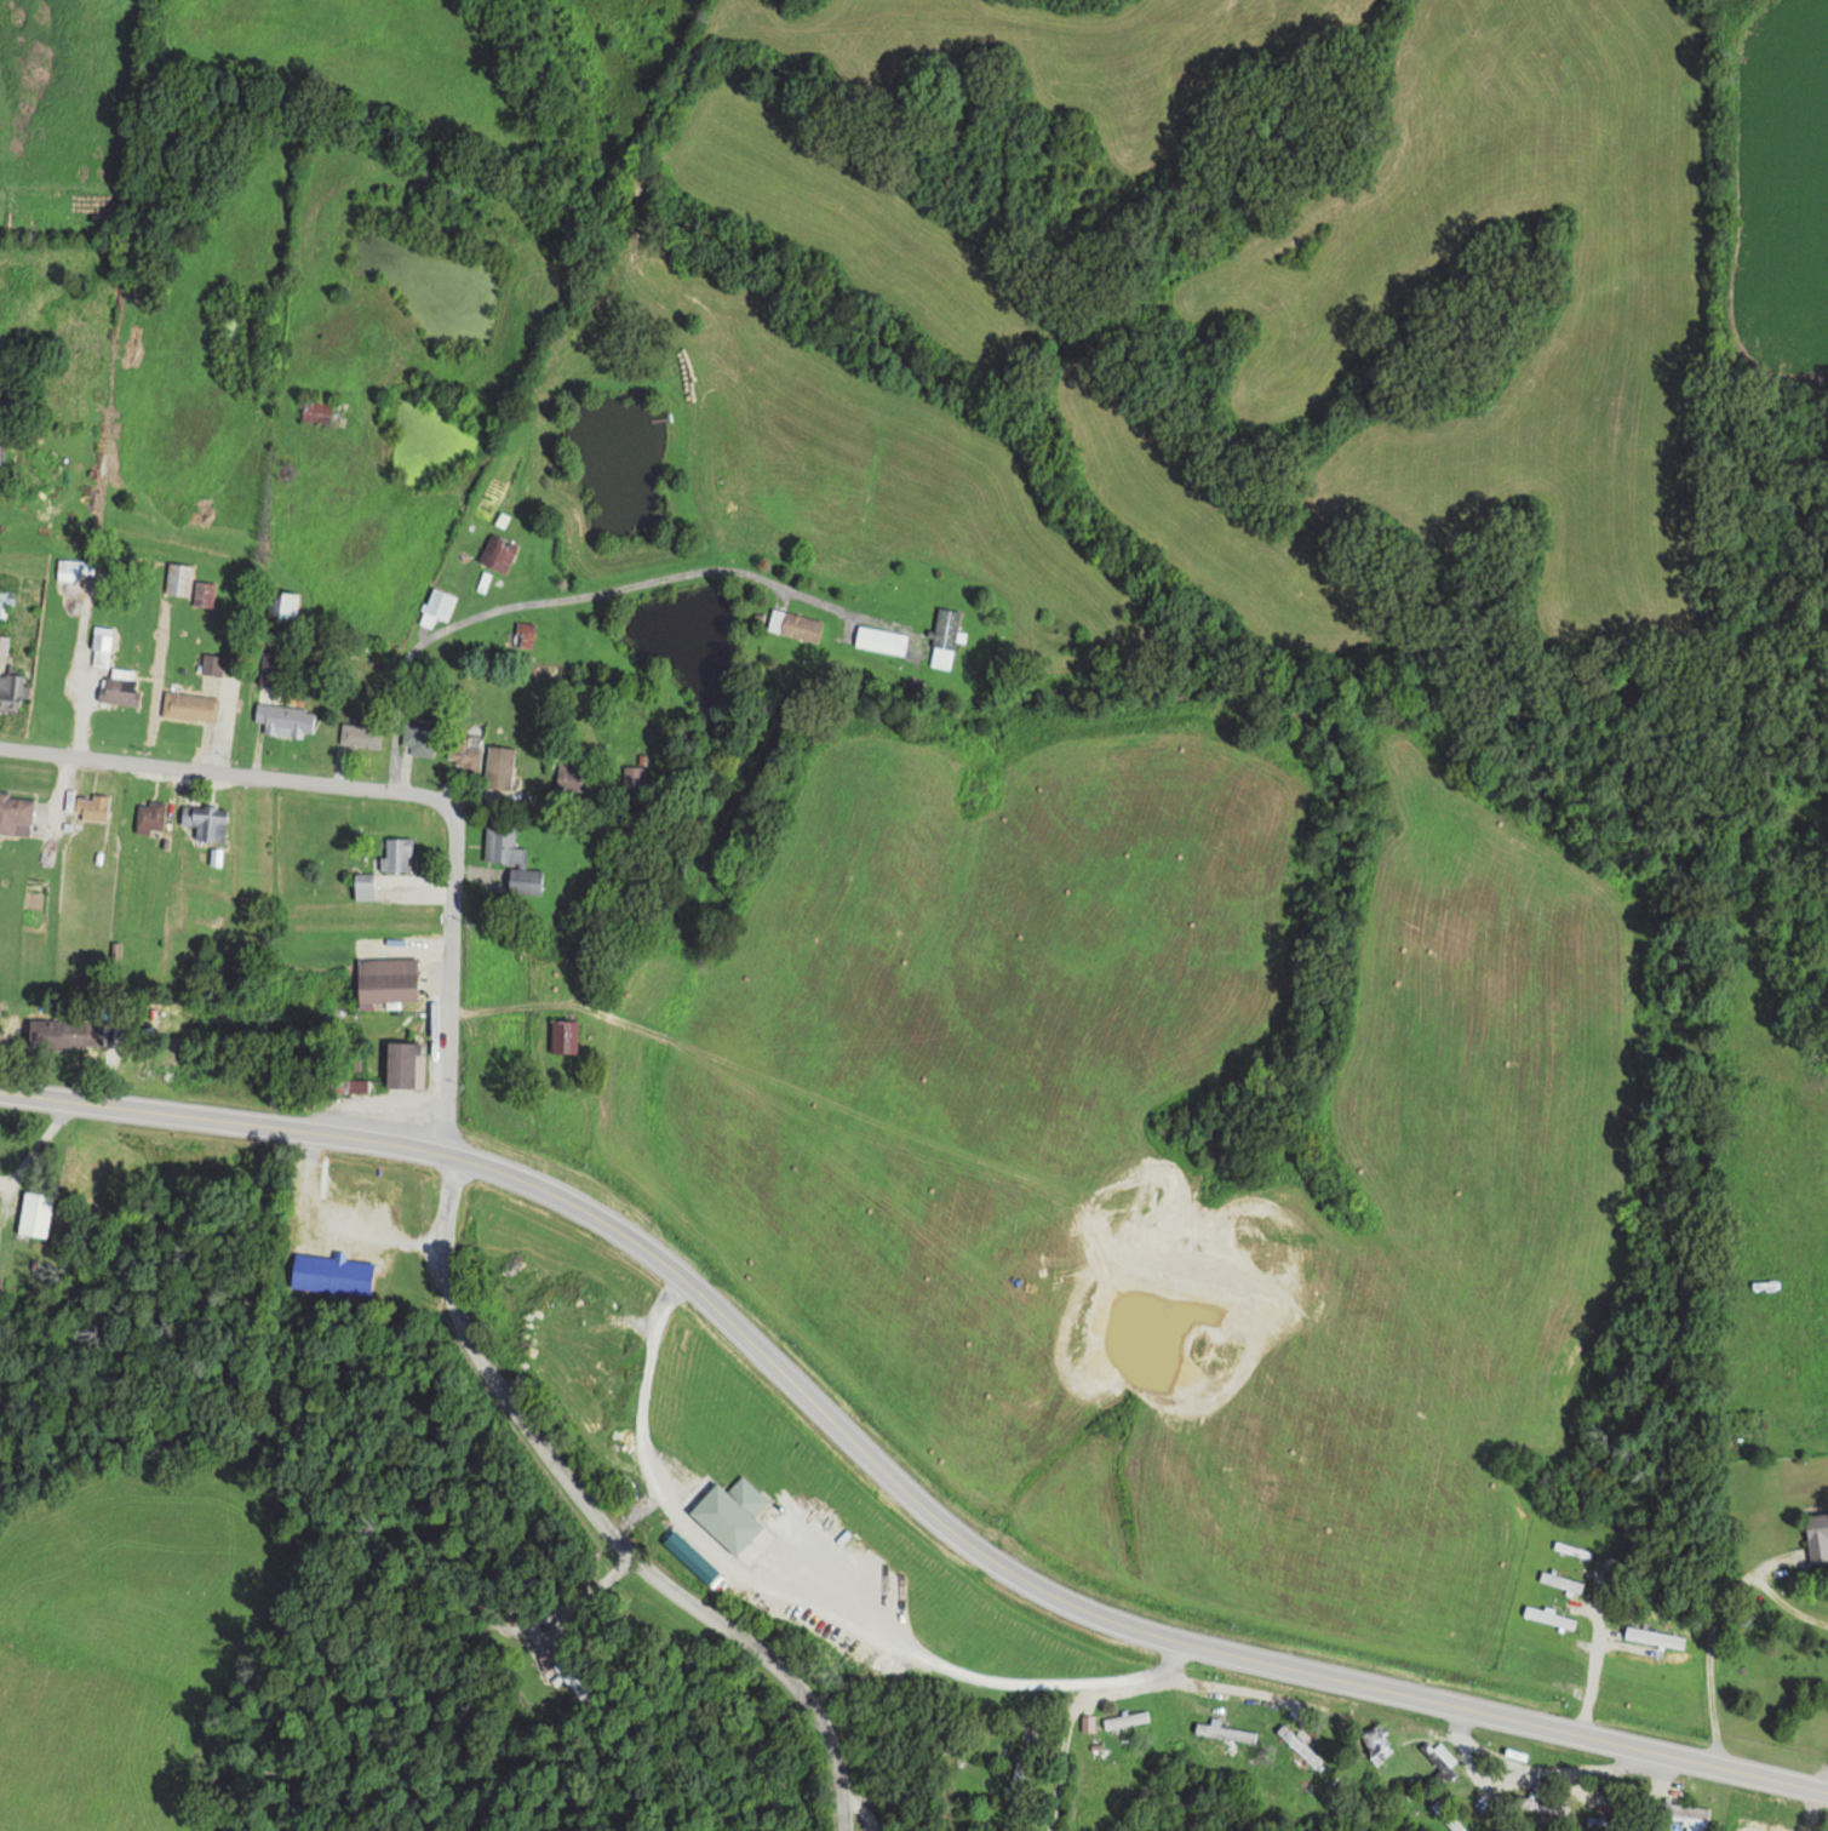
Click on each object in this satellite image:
building: (316, 408)
building: (497, 551)
building: (73, 567)
building: (178, 578)
building: (202, 593)
road: (560, 595)
building: (5, 602)
building: (280, 603)
building: (436, 606)
building: (793, 623)
building: (944, 636)
building: (879, 639)
building: (2, 643)
building: (101, 645)
building: (212, 663)
building: (273, 668)
building: (118, 686)
building: (11, 690)
building: (189, 705)
building: (285, 719)
building: (360, 736)
building: (419, 738)
building: (460, 753)
building: (499, 767)
road: (224, 769)
building: (573, 779)
building: (634, 780)
building: (91, 806)
building: (15, 814)
building: (148, 817)
building: (204, 819)
building: (502, 846)
building: (396, 853)
building: (525, 881)
road: (453, 978)
building: (385, 979)
building: (55, 1035)
building: (561, 1036)
building: (402, 1064)
building: (356, 1085)
building: (36, 1211)
building: (331, 1274)
road: (890, 1470)
building: (729, 1514)
road: (601, 1520)
building: (1816, 1537)
road: (802, 1596)
building: (1125, 1720)
building: (1222, 1732)
building: (1375, 1744)
building: (1297, 1745)
road: (1055, 1746)
building: (1443, 1758)
building: (1542, 1804)
building: (1673, 1809)
road: (855, 1812)
building: (1448, 1815)

